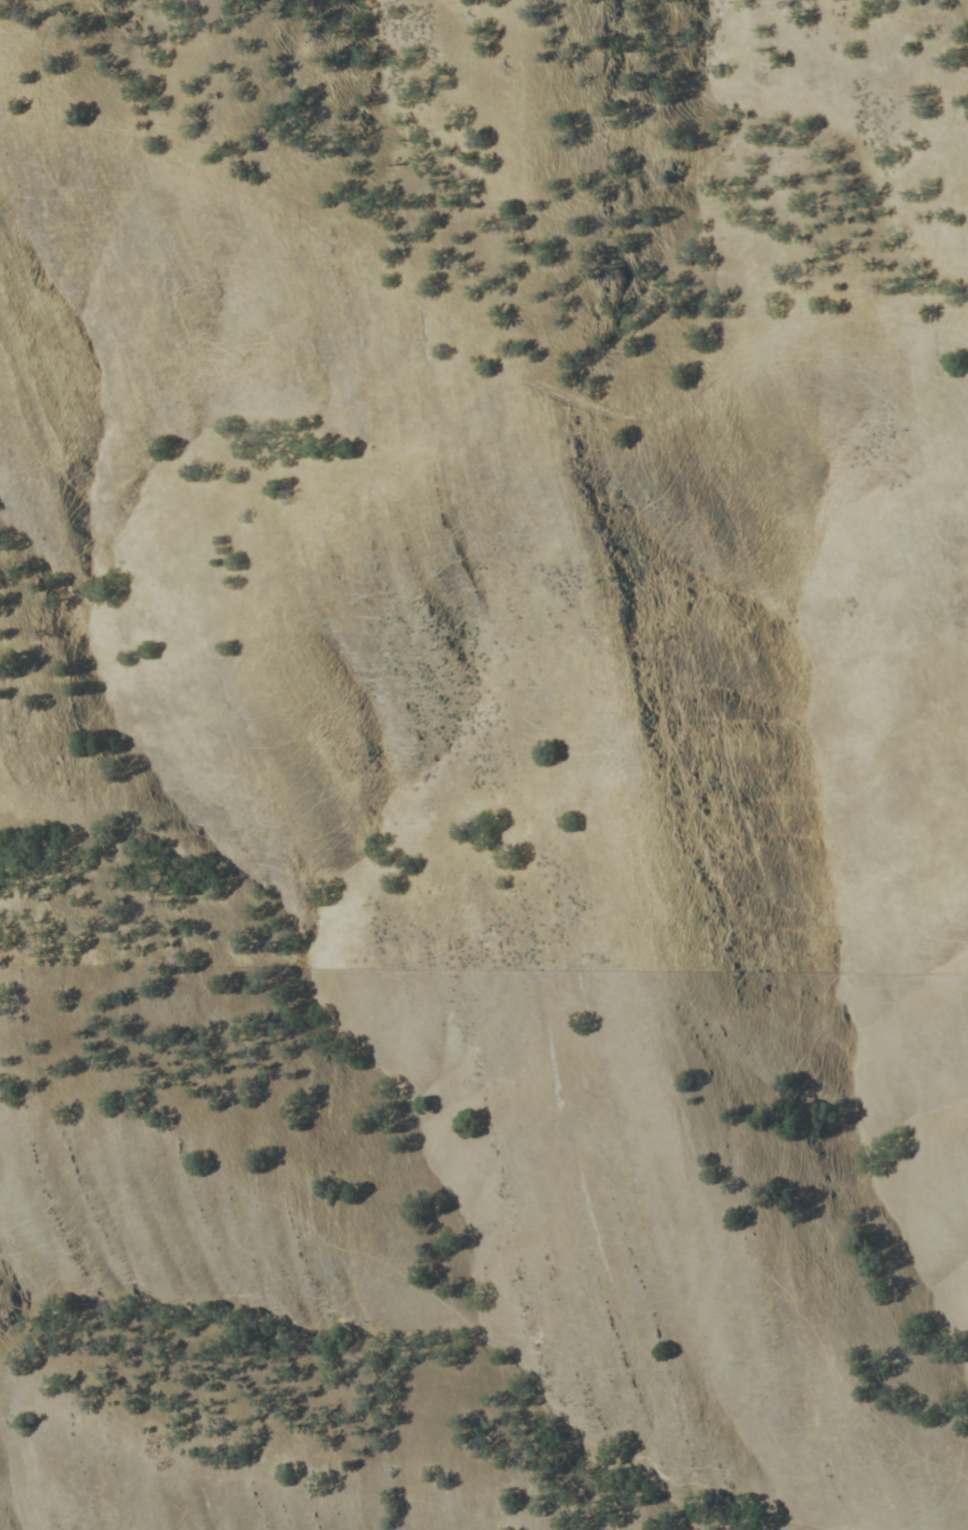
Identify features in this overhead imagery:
road: (867, 1417)

